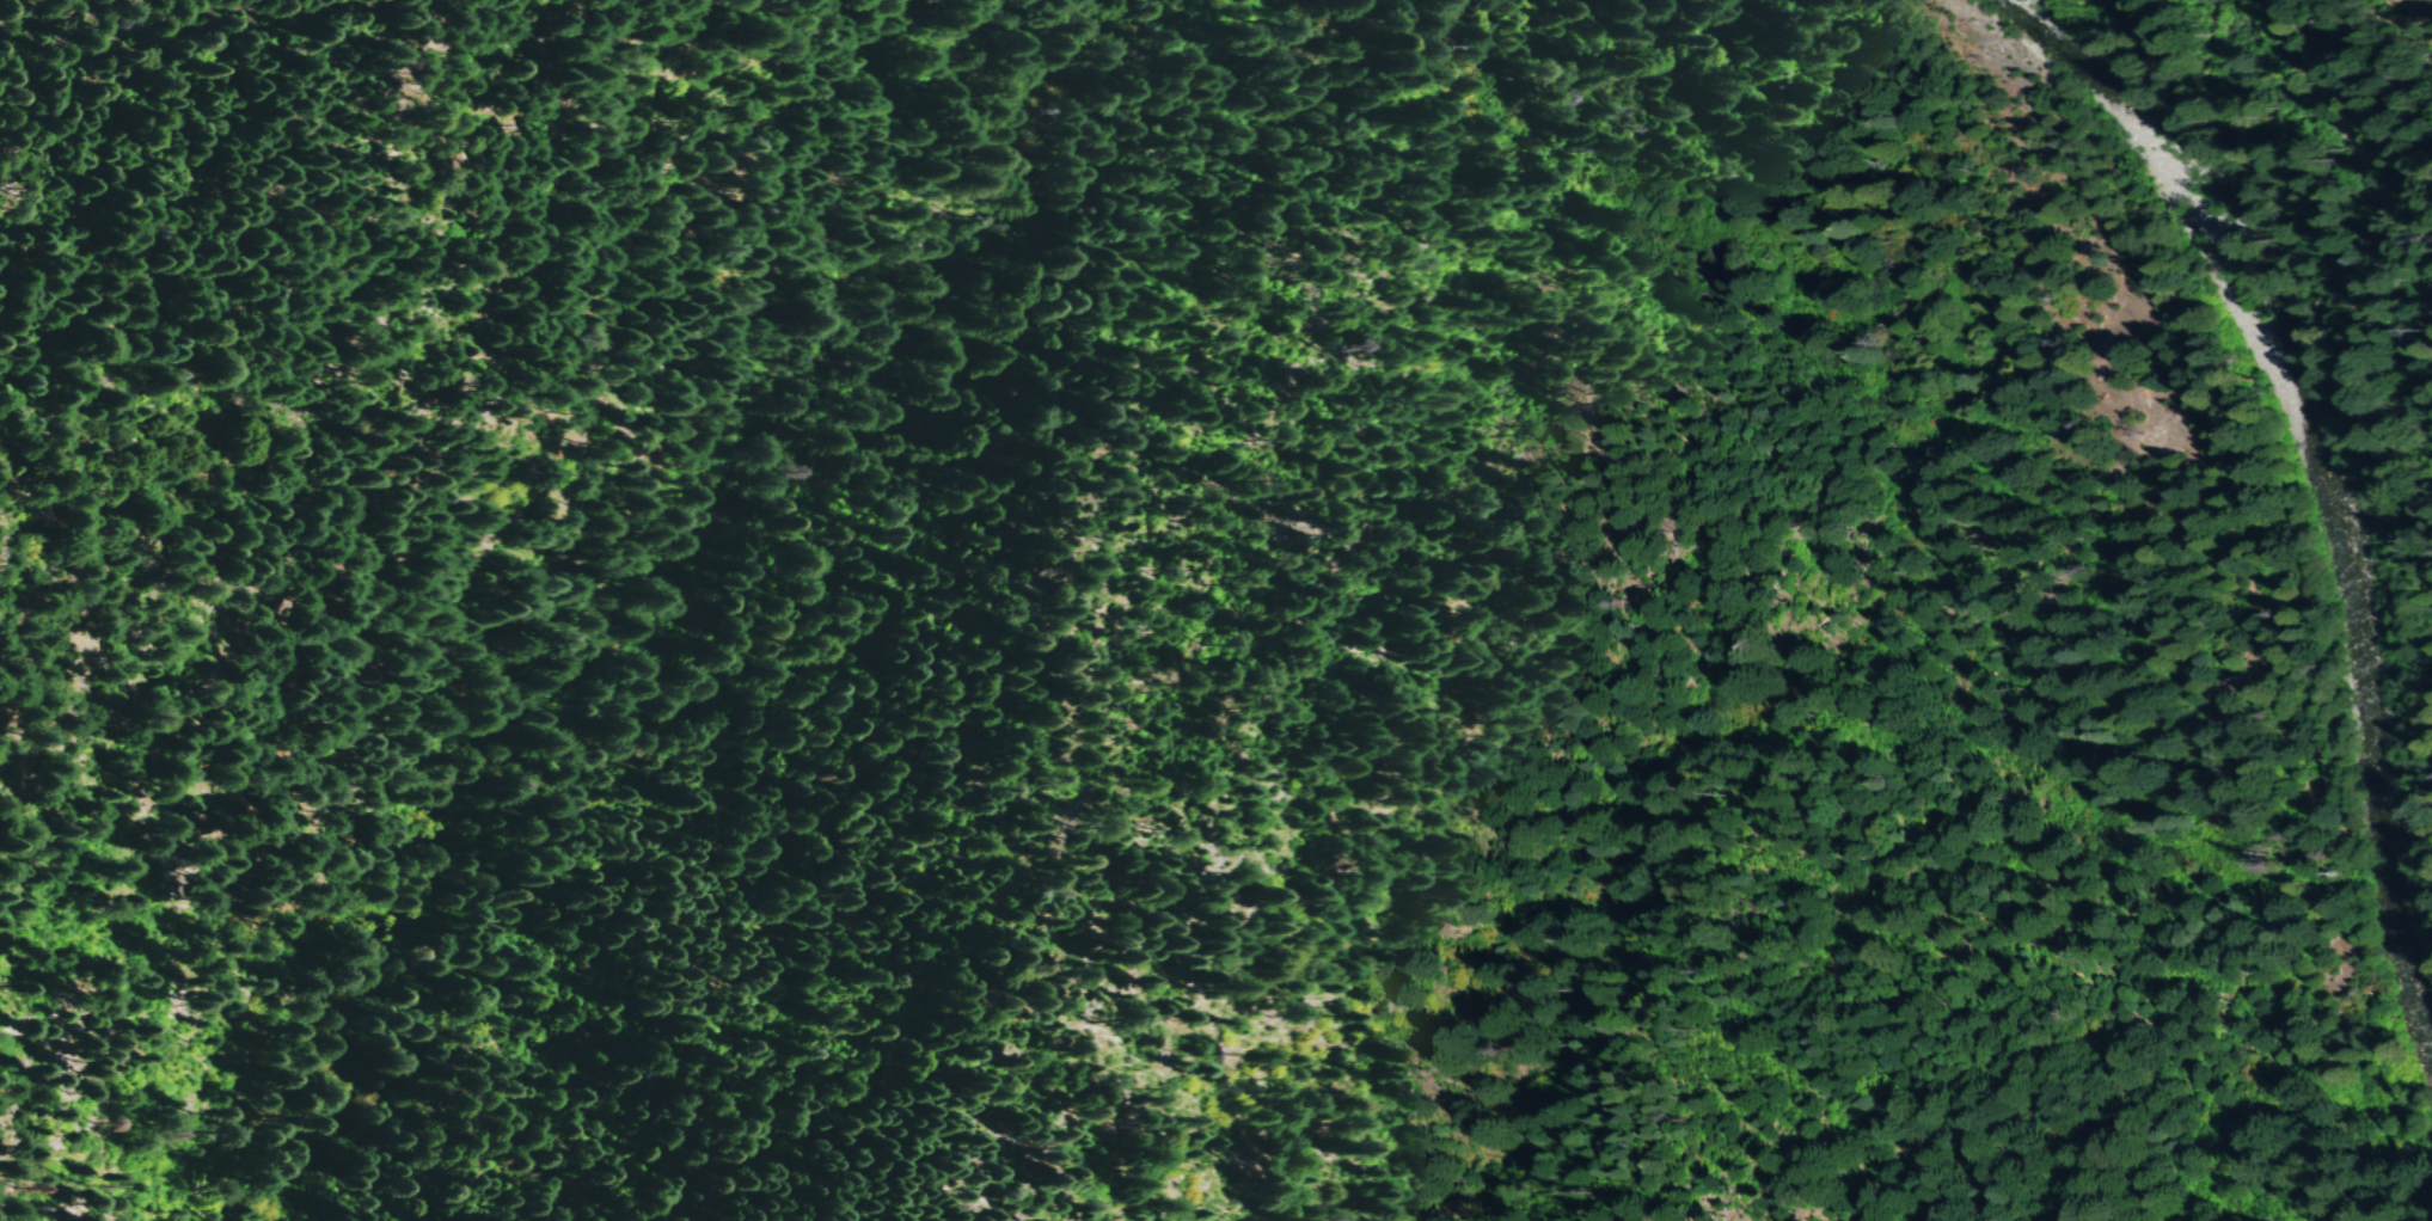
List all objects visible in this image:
road: (2351, 143)
river: (2335, 477)

